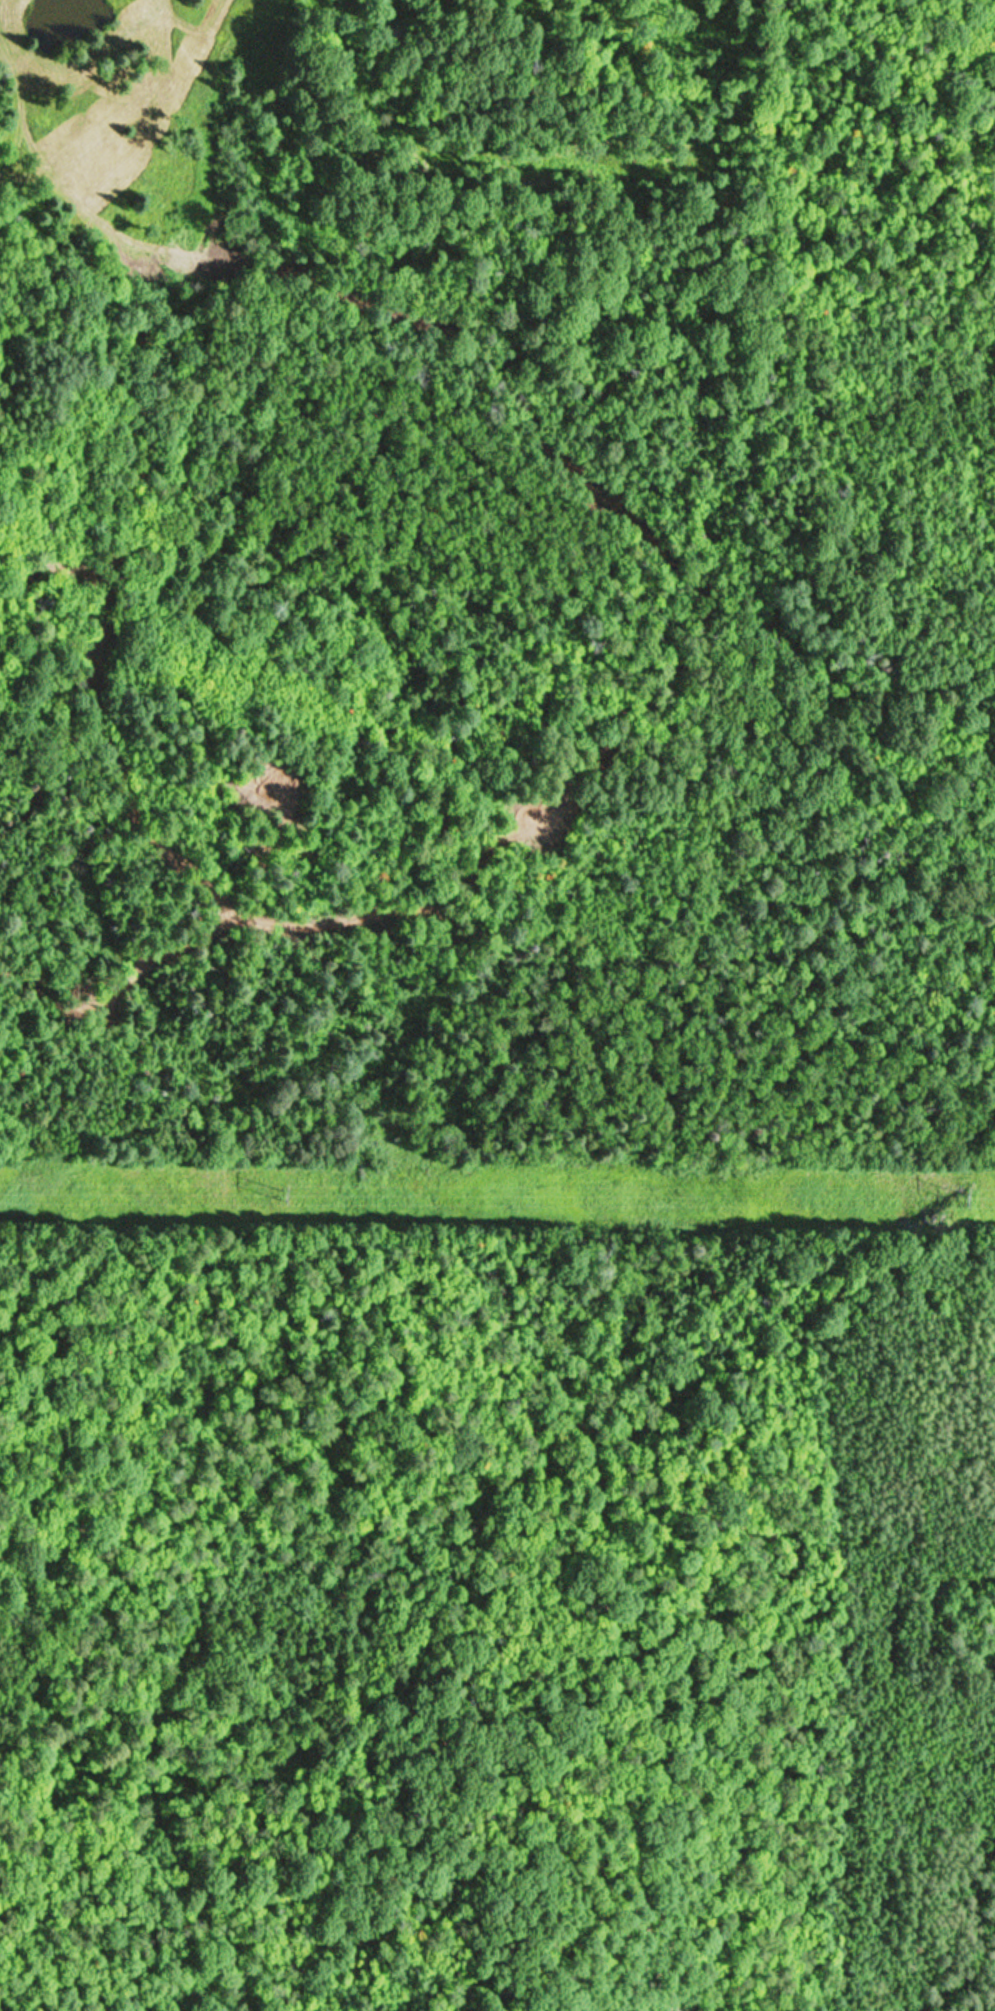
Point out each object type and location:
power tower: (280, 1195)
power tower: (961, 1199)

